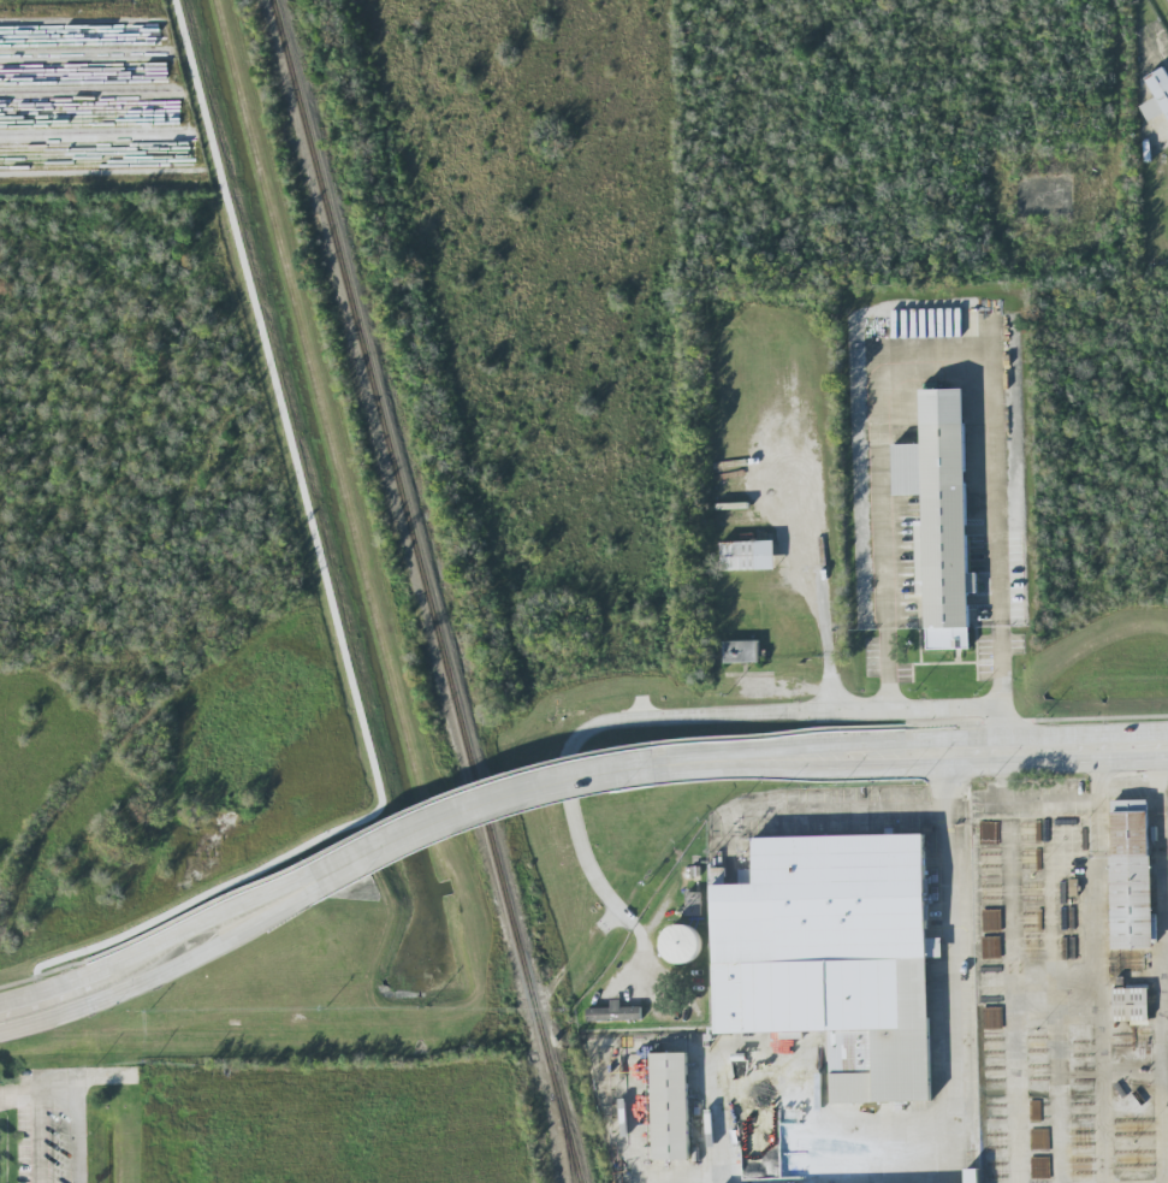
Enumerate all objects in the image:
building: (1157, 95)
road: (882, 484)
building: (941, 516)
road: (996, 537)
building: (748, 556)
road: (816, 570)
railway: (428, 591)
building: (742, 651)
road: (687, 718)
road: (872, 728)
road: (954, 741)
road: (954, 767)
road: (1050, 804)
road: (415, 810)
road: (380, 841)
road: (381, 859)
building: (1131, 875)
building: (747, 876)
road: (1098, 898)
road: (1009, 917)
road: (132, 941)
building: (682, 944)
building: (834, 957)
building: (1130, 962)
road: (1161, 971)
road: (18, 998)
building: (1131, 1005)
building: (615, 1013)
road: (22, 1023)
building: (1120, 1043)
road: (953, 1045)
road: (1012, 1046)
road: (105, 1077)
road: (1099, 1088)
road: (1057, 1089)
road: (38, 1092)
building: (670, 1106)
railway: (708, 1128)
road: (40, 1137)
road: (78, 1137)
building: (994, 1140)
building: (972, 1176)

